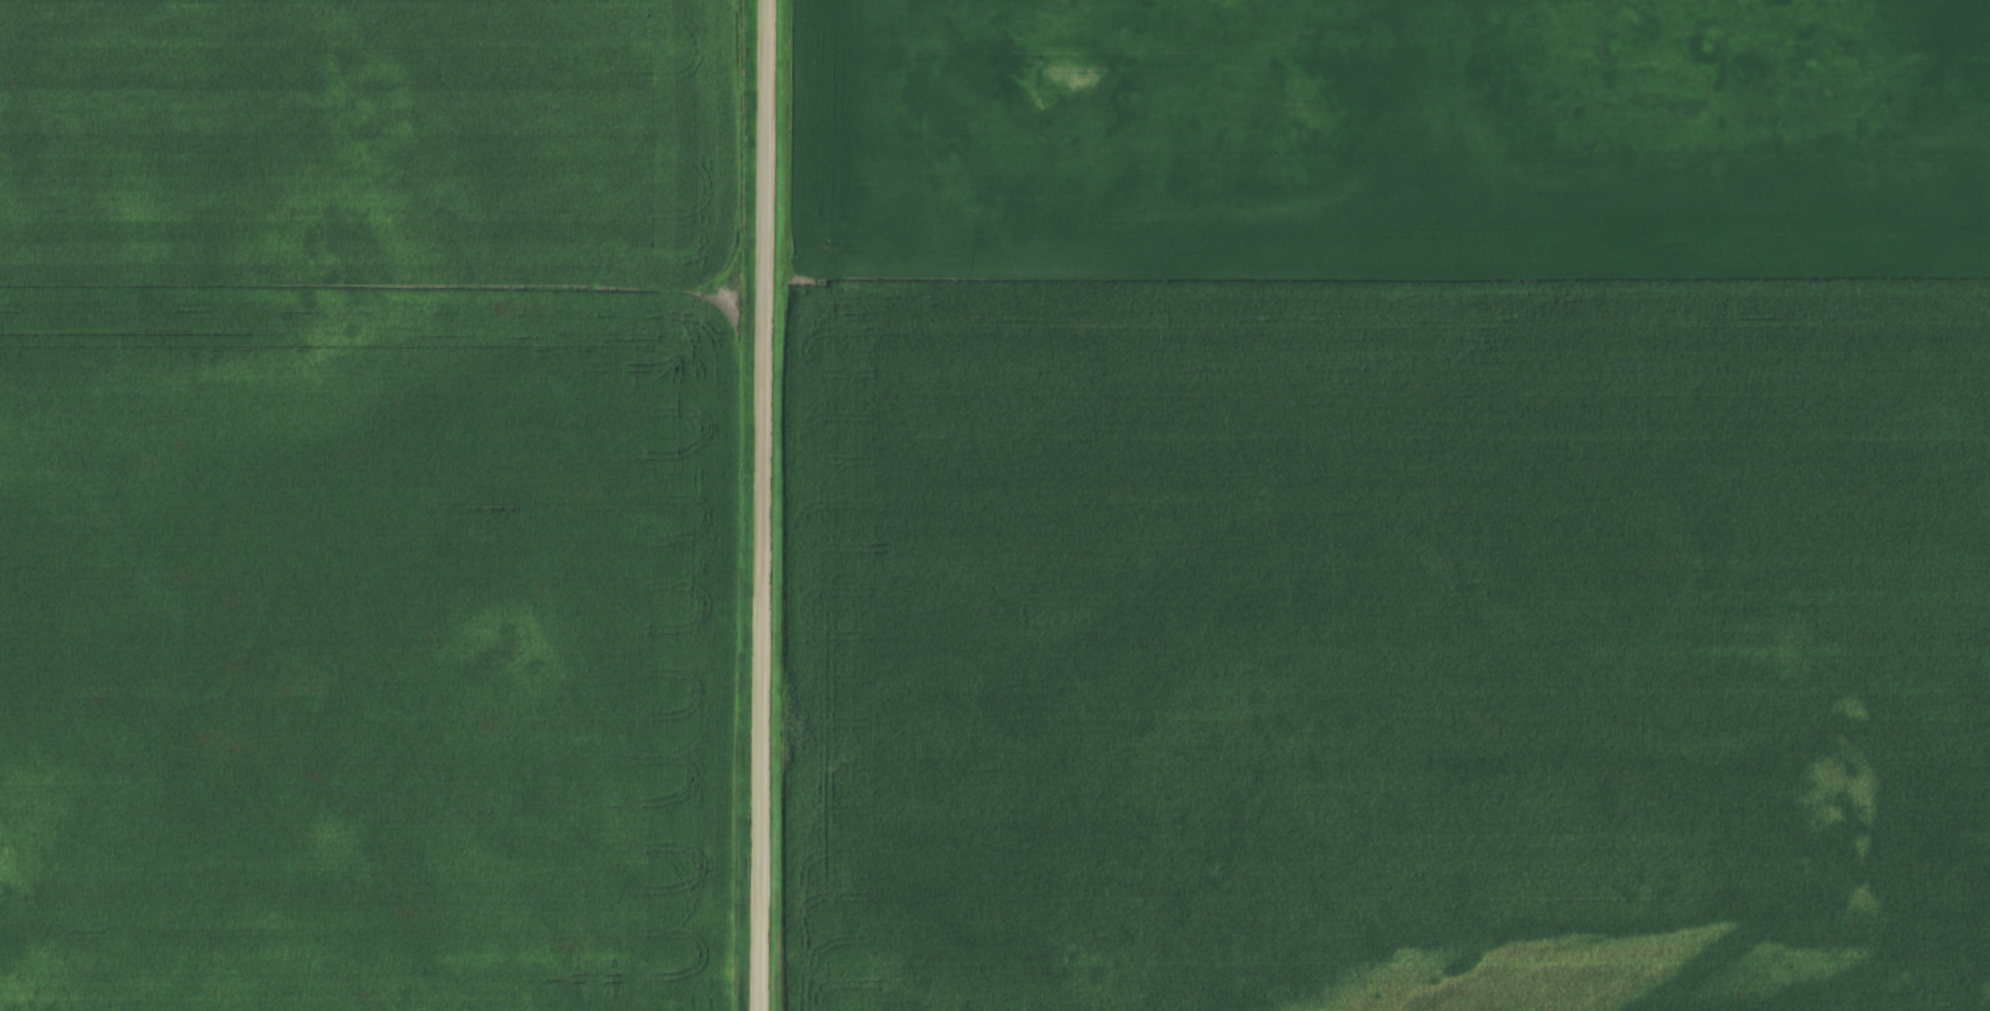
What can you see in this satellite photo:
road: (767, 505)

